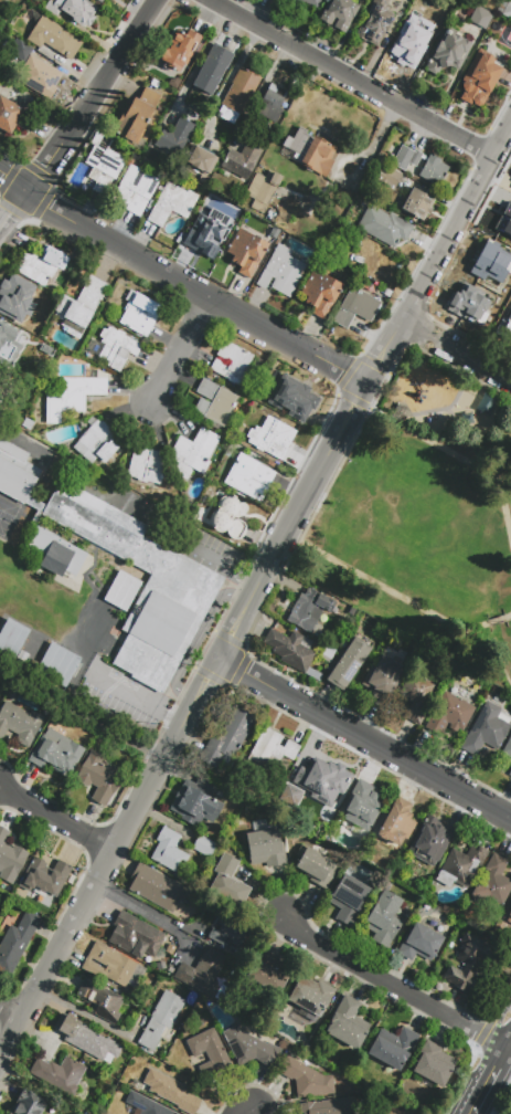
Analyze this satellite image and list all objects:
building: (100, 0)
building: (306, 2)
building: (12, 3)
building: (26, 4)
building: (505, 10)
building: (73, 11)
building: (340, 14)
building: (482, 21)
building: (438, 22)
building: (375, 23)
building: (55, 41)
building: (408, 46)
building: (178, 51)
building: (21, 53)
building: (448, 55)
road: (199, 60)
building: (213, 72)
road: (352, 76)
building: (40, 80)
building: (479, 81)
road: (260, 88)
road: (92, 95)
building: (239, 97)
building: (273, 105)
building: (138, 118)
building: (14, 120)
building: (174, 140)
building: (310, 155)
building: (105, 159)
building: (407, 160)
building: (202, 162)
building: (243, 162)
building: (435, 175)
building: (387, 178)
building: (97, 187)
building: (137, 192)
building: (264, 192)
building: (417, 206)
building: (173, 207)
road: (12, 208)
road: (456, 219)
building: (504, 220)
building: (385, 229)
building: (212, 234)
building: (247, 254)
building: (490, 263)
building: (43, 265)
building: (283, 275)
road: (182, 281)
building: (321, 296)
building: (17, 298)
building: (467, 302)
building: (79, 308)
building: (356, 309)
building: (138, 316)
building: (504, 324)
road: (417, 332)
building: (9, 347)
building: (116, 348)
road: (188, 354)
road: (472, 361)
building: (234, 366)
road: (364, 389)
building: (294, 399)
building: (73, 400)
building: (489, 404)
building: (216, 406)
road: (447, 408)
building: (467, 420)
building: (272, 438)
road: (435, 442)
building: (98, 445)
building: (195, 455)
building: (148, 467)
building: (17, 474)
building: (251, 481)
road: (130, 503)
road: (504, 504)
park: (6, 513)
road: (291, 517)
park: (425, 517)
building: (230, 519)
road: (510, 528)
building: (55, 553)
road: (380, 586)
building: (121, 591)
building: (175, 596)
building: (309, 610)
road: (508, 617)
road: (234, 620)
road: (492, 621)
building: (11, 638)
road: (196, 639)
building: (291, 652)
building: (329, 653)
building: (23, 658)
building: (55, 664)
building: (351, 664)
building: (383, 682)
road: (194, 693)
building: (10, 695)
road: (134, 698)
building: (416, 701)
building: (28, 703)
building: (449, 717)
building: (19, 722)
building: (485, 731)
road: (362, 739)
building: (228, 740)
building: (508, 752)
building: (56, 753)
building: (270, 754)
building: (510, 776)
building: (100, 780)
building: (323, 782)
building: (289, 795)
building: (198, 805)
building: (363, 808)
road: (55, 821)
building: (396, 827)
building: (429, 844)
building: (205, 850)
building: (267, 851)
building: (170, 854)
building: (10, 861)
building: (316, 868)
building: (462, 869)
building: (46, 881)
building: (228, 885)
building: (493, 885)
building: (158, 891)
road: (88, 894)
building: (350, 903)
building: (0, 911)
road: (140, 911)
building: (509, 921)
building: (384, 922)
building: (230, 934)
building: (136, 938)
building: (17, 946)
building: (422, 946)
building: (170, 950)
building: (468, 964)
building: (161, 967)
building: (114, 970)
building: (269, 975)
building: (202, 977)
road: (390, 987)
building: (311, 998)
building: (102, 1003)
road: (10, 1018)
road: (502, 1022)
building: (161, 1023)
building: (349, 1027)
building: (86, 1039)
road: (508, 1039)
road: (508, 1043)
building: (251, 1050)
building: (394, 1050)
building: (212, 1057)
road: (497, 1063)
building: (434, 1066)
building: (60, 1078)
building: (308, 1082)
building: (172, 1094)
road: (479, 1096)
building: (31, 1105)
building: (145, 1106)
building: (328, 1107)
road: (247, 1112)

